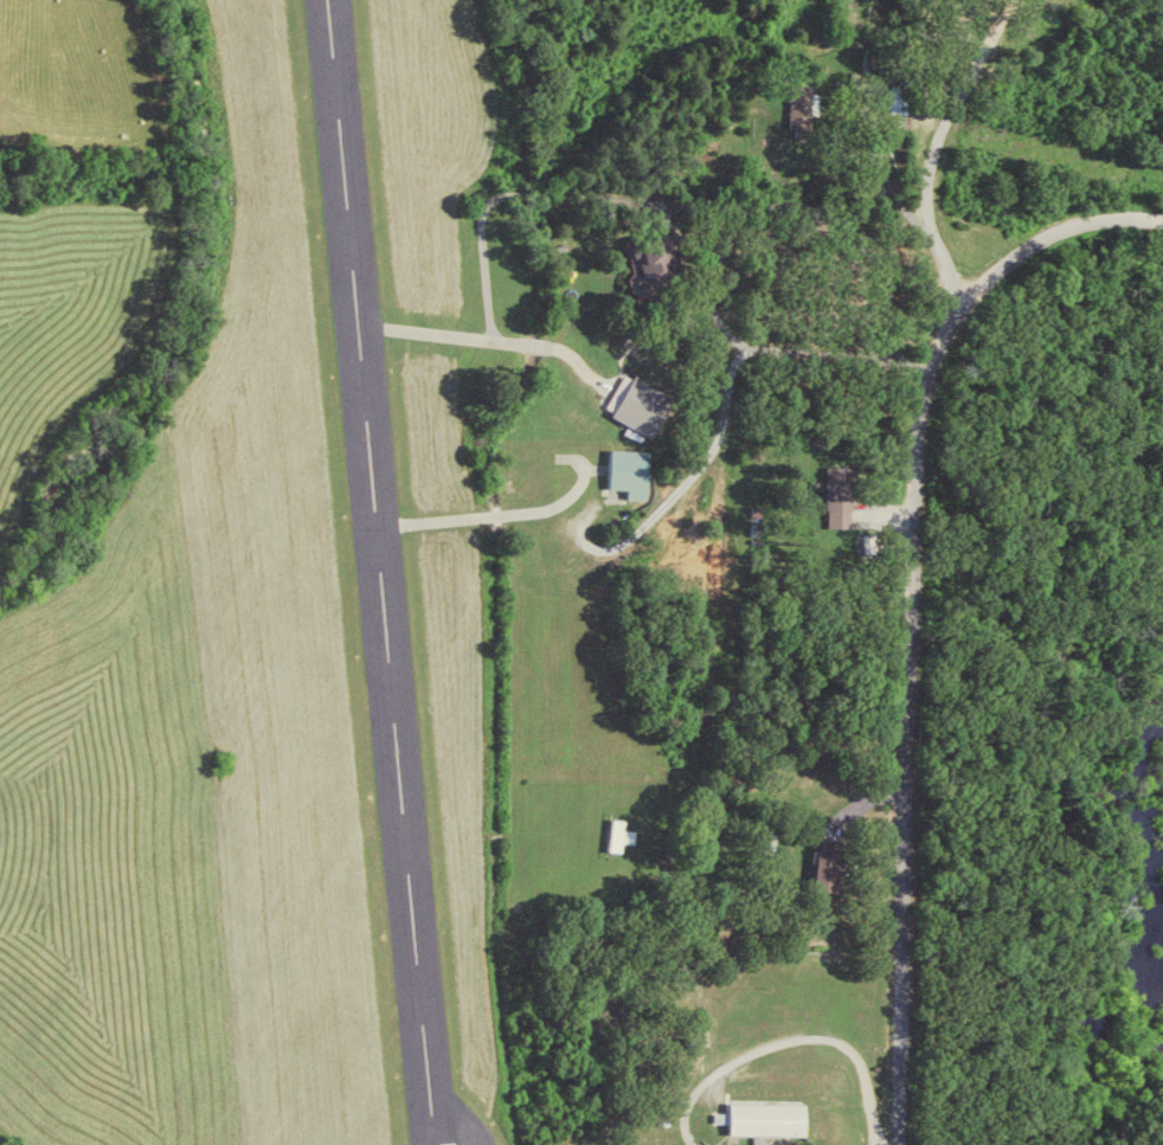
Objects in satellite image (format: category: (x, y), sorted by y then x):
road: (930, 45)
building: (801, 107)
road: (934, 146)
road: (1054, 233)
building: (653, 260)
building: (650, 411)
building: (637, 476)
building: (833, 498)
airport runway: (380, 572)
road: (906, 716)
building: (632, 841)
building: (772, 844)
building: (825, 862)
building: (759, 1120)

